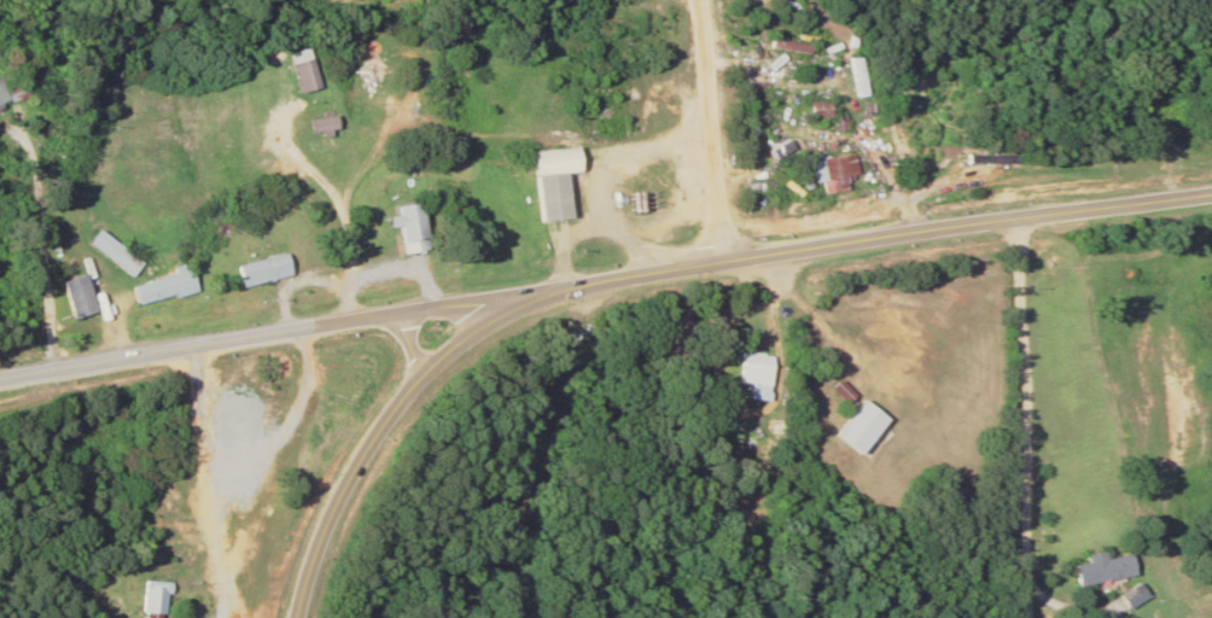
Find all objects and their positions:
building: (298, 70)
building: (372, 72)
building: (4, 89)
building: (610, 100)
building: (822, 110)
building: (321, 123)
building: (1146, 126)
road: (717, 129)
building: (907, 140)
building: (835, 168)
building: (549, 182)
building: (403, 226)
building: (106, 252)
building: (258, 269)
road: (666, 269)
building: (156, 286)
building: (66, 295)
road: (274, 334)
road: (410, 344)
building: (747, 361)
building: (849, 425)
building: (1095, 569)
building: (1126, 594)
building: (147, 599)

